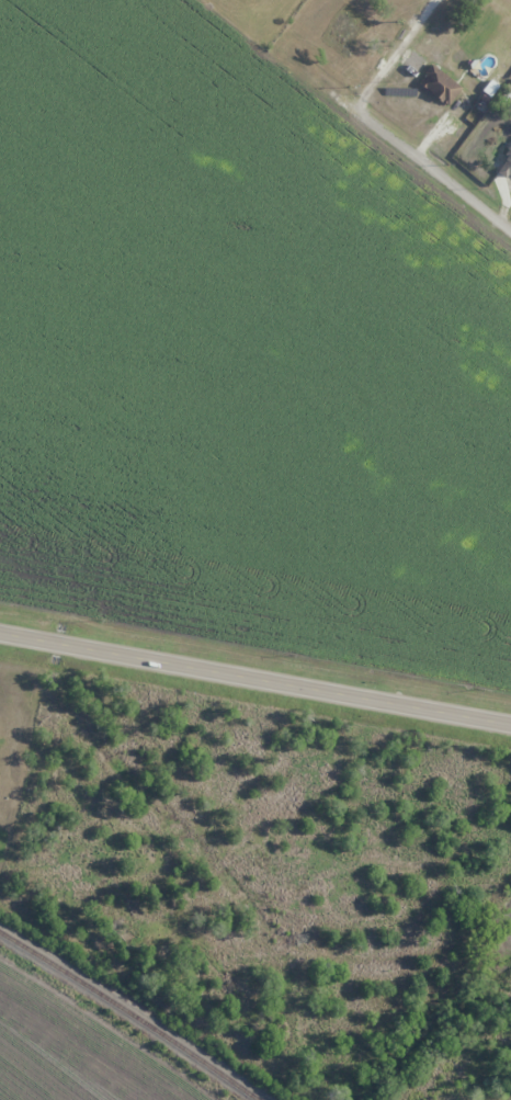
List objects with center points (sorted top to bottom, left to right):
building: (361, 34)
building: (439, 84)
road: (382, 131)
building: (500, 165)
road: (256, 676)
railway: (129, 1012)
crop: (63, 1055)

